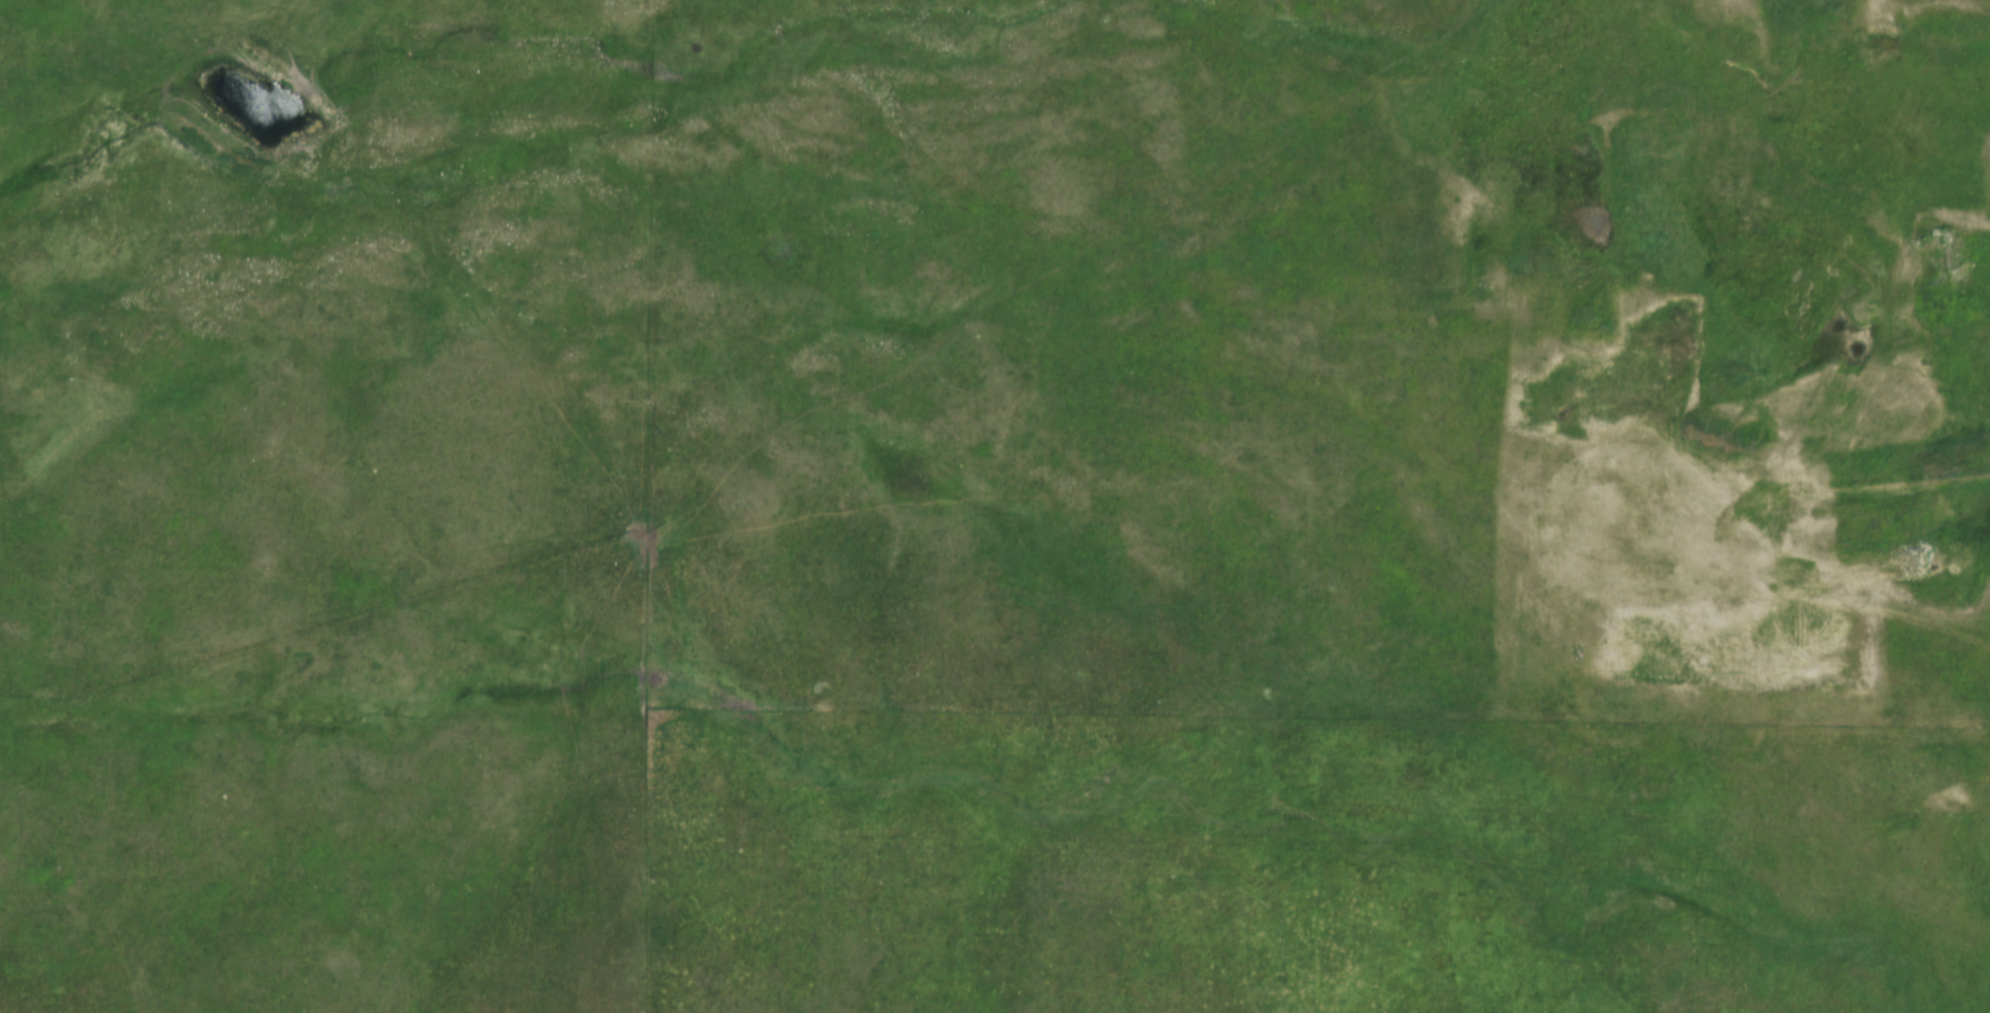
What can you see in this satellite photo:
quarry: (1818, 352)

